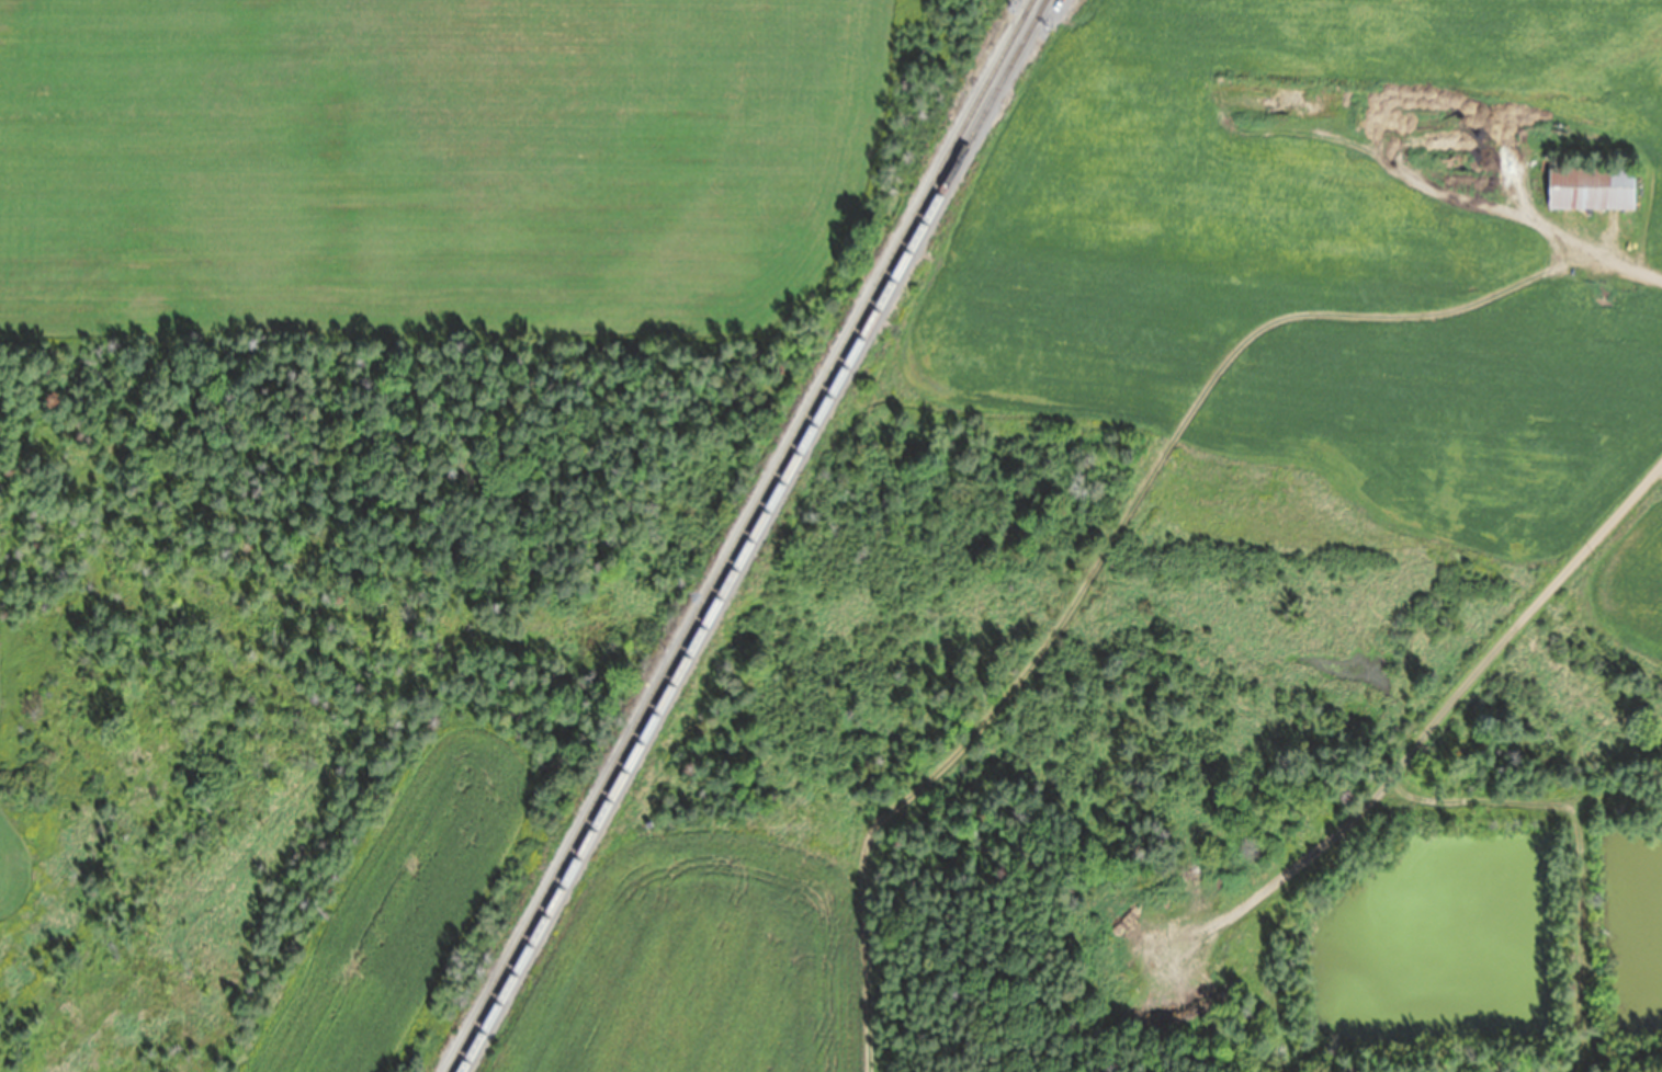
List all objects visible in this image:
building: (1588, 189)
building: (1576, 278)
railway: (739, 536)
railway: (753, 536)

